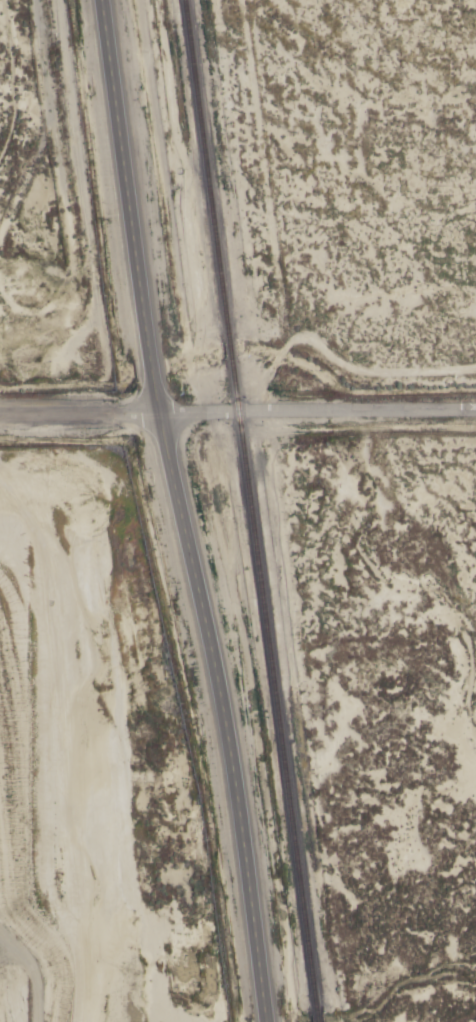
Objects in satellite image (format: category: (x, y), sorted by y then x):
railway: (205, 169)
wastewater plant: (42, 211)
railway: (229, 348)
road: (237, 410)
road: (178, 511)
railway: (272, 682)
wastewater plant: (92, 761)
road: (25, 978)
railway: (316, 1014)

